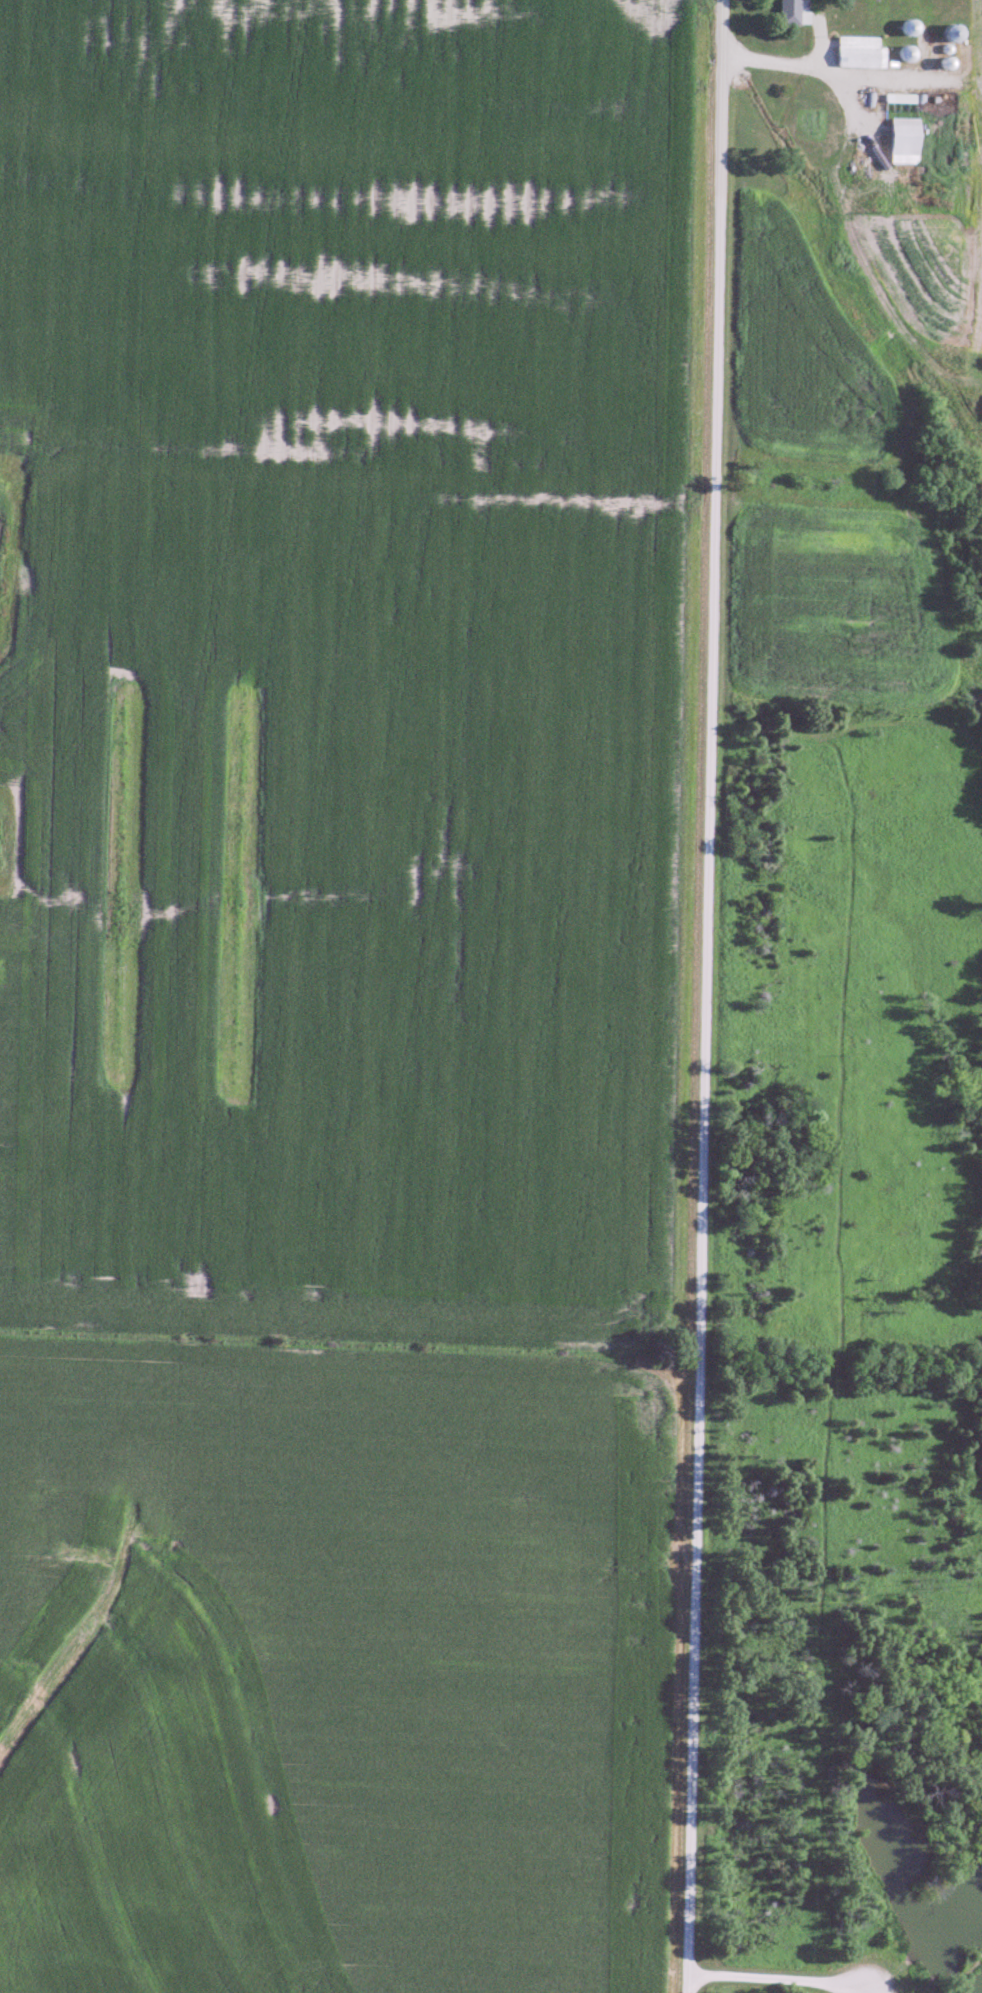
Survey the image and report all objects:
building: (793, 11)
building: (861, 51)
road: (779, 63)
building: (899, 97)
building: (904, 139)
road: (704, 996)
road: (783, 1976)

